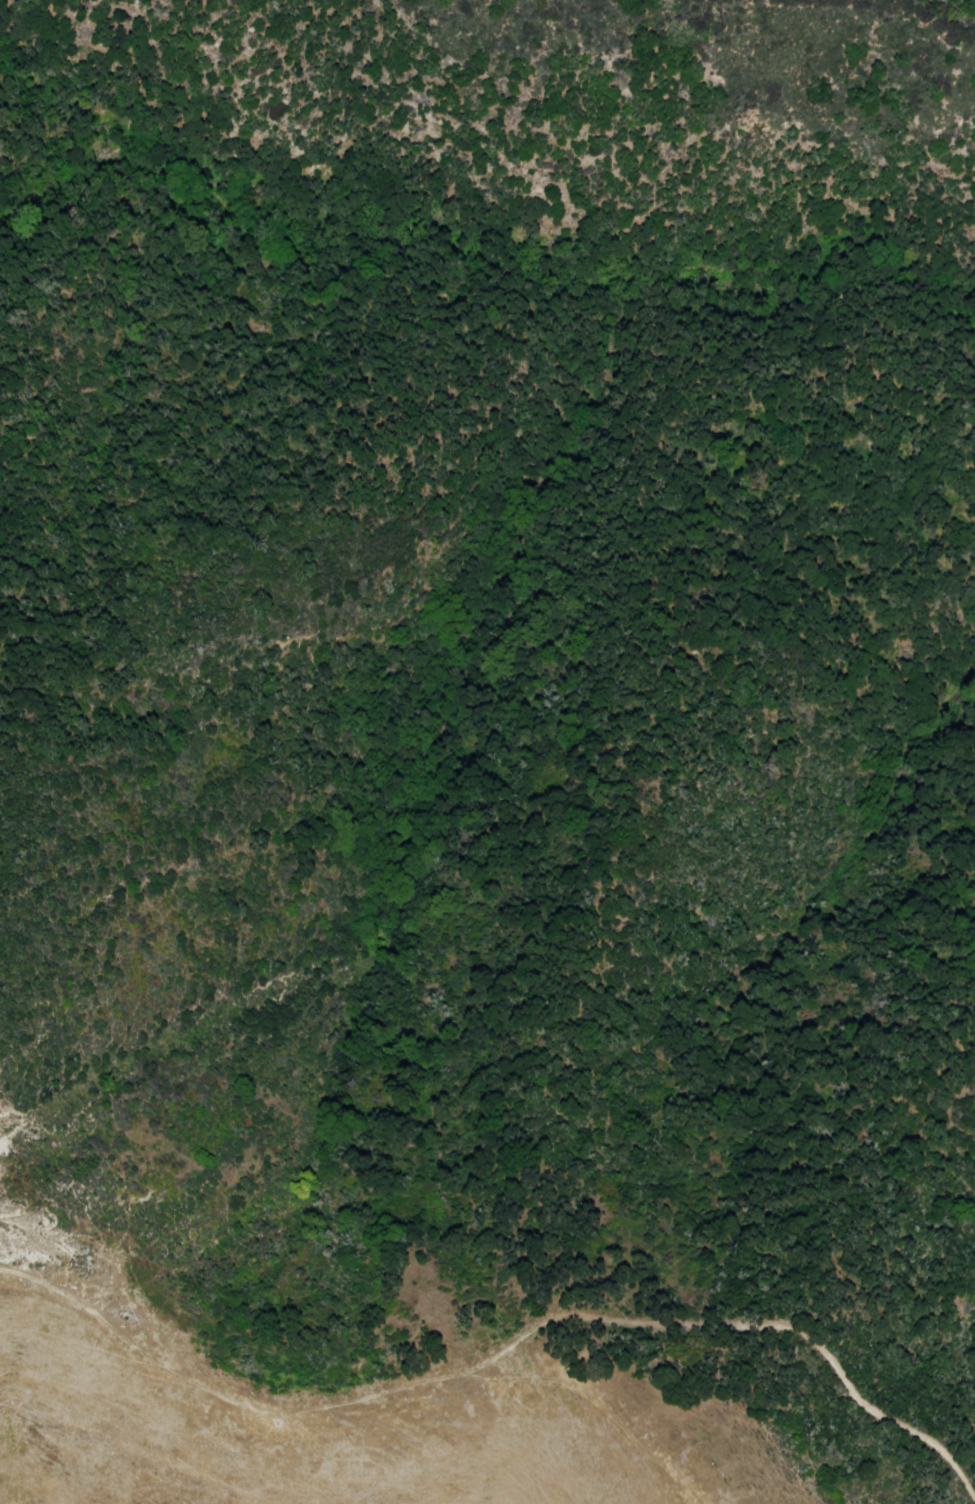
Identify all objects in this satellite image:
road: (504, 1348)

